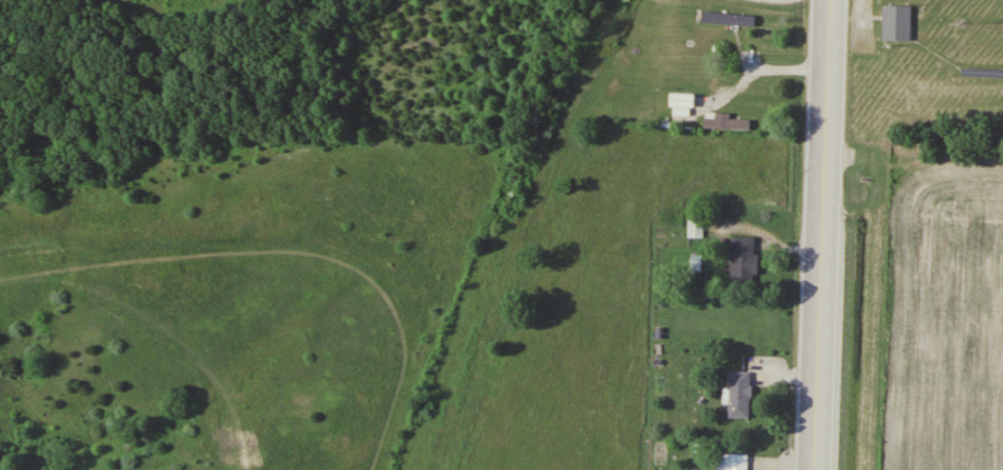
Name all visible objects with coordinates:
building: (729, 18)
building: (899, 21)
building: (682, 100)
building: (725, 121)
building: (695, 227)
road: (823, 235)
building: (744, 261)
building: (740, 393)
building: (737, 461)

